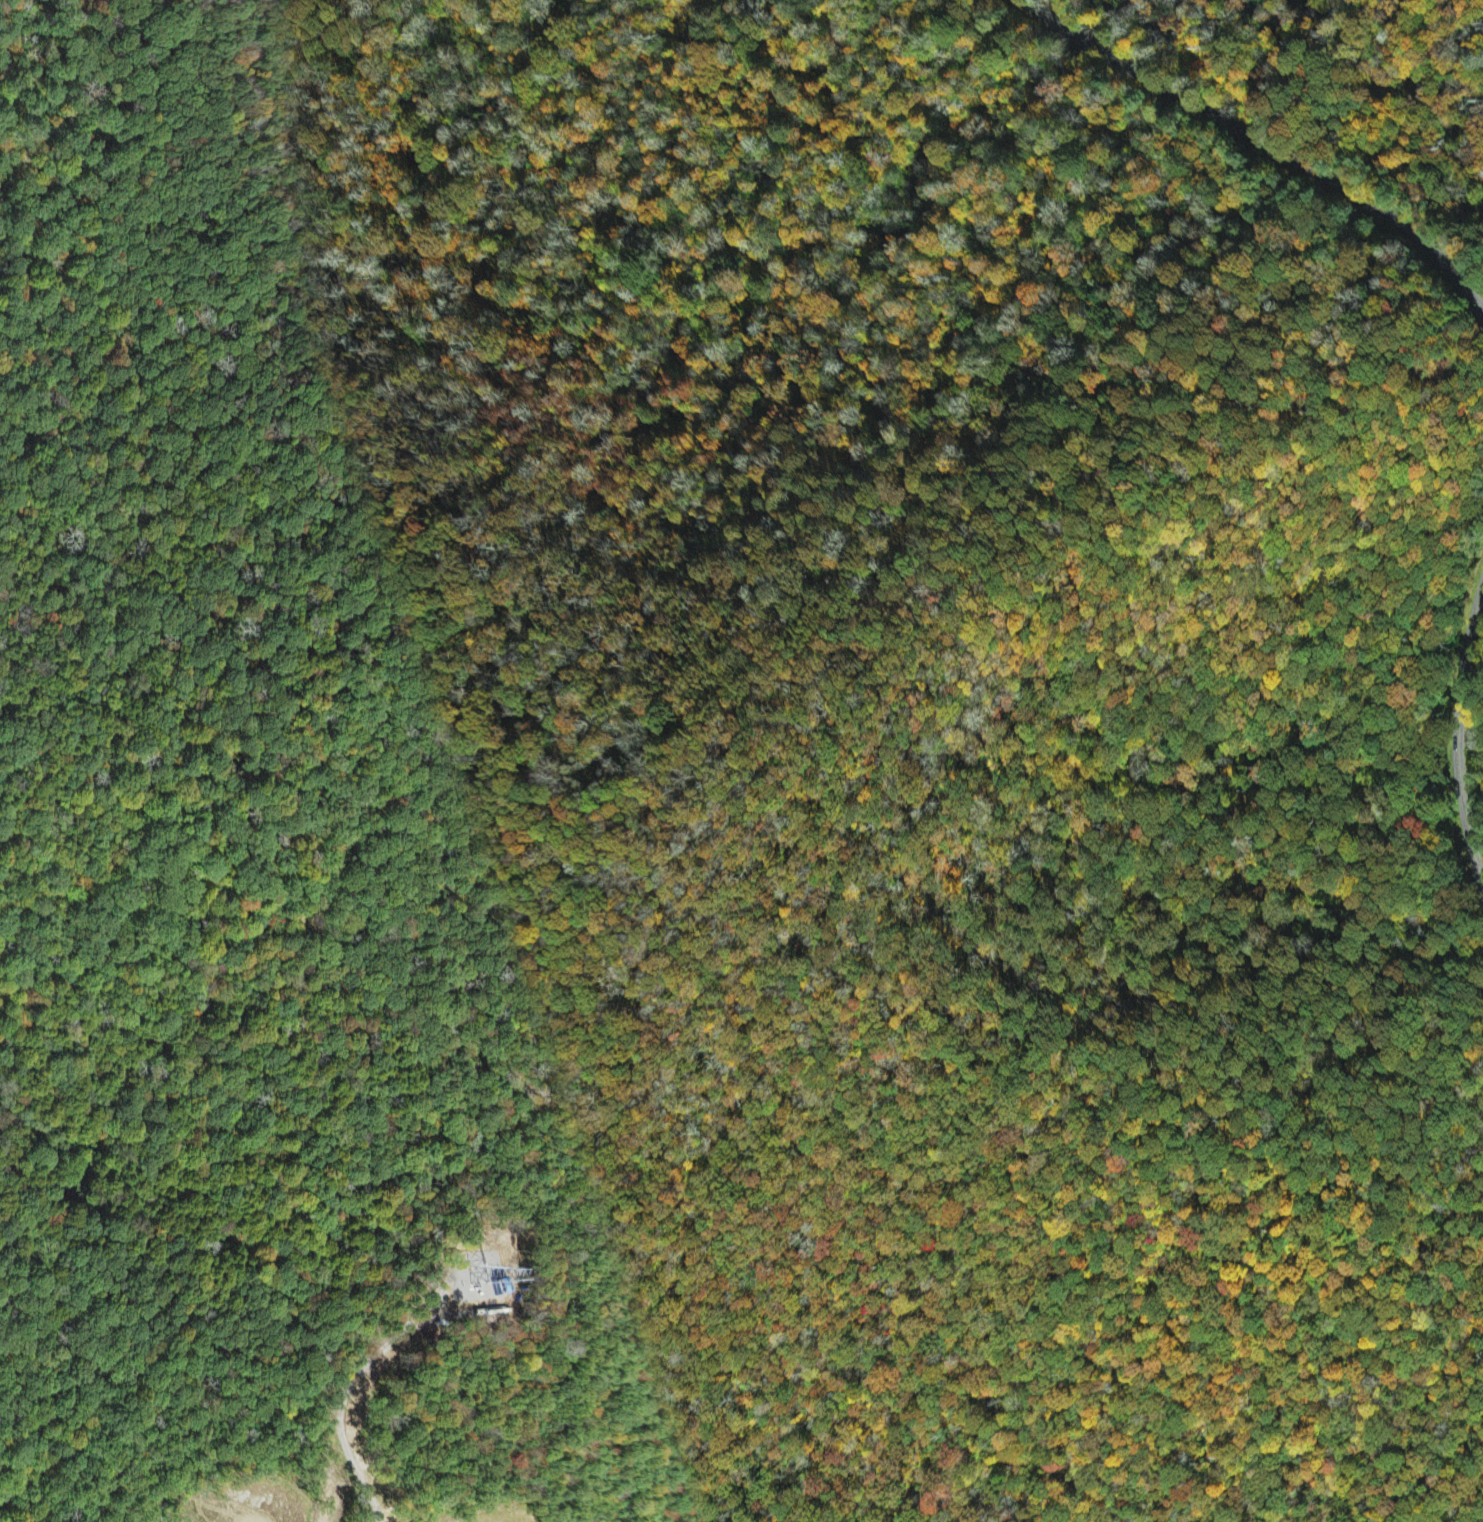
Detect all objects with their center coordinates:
road: (1266, 143)
road: (1482, 314)
road: (1343, 546)
road: (1458, 737)

